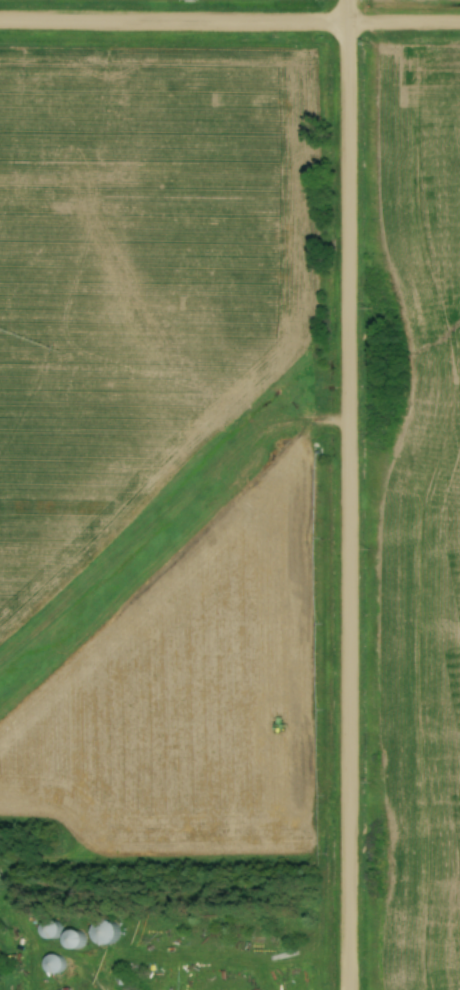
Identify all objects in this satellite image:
road: (230, 25)
road: (346, 495)
building: (53, 930)
building: (109, 933)
building: (76, 940)
building: (16, 944)
building: (57, 964)

